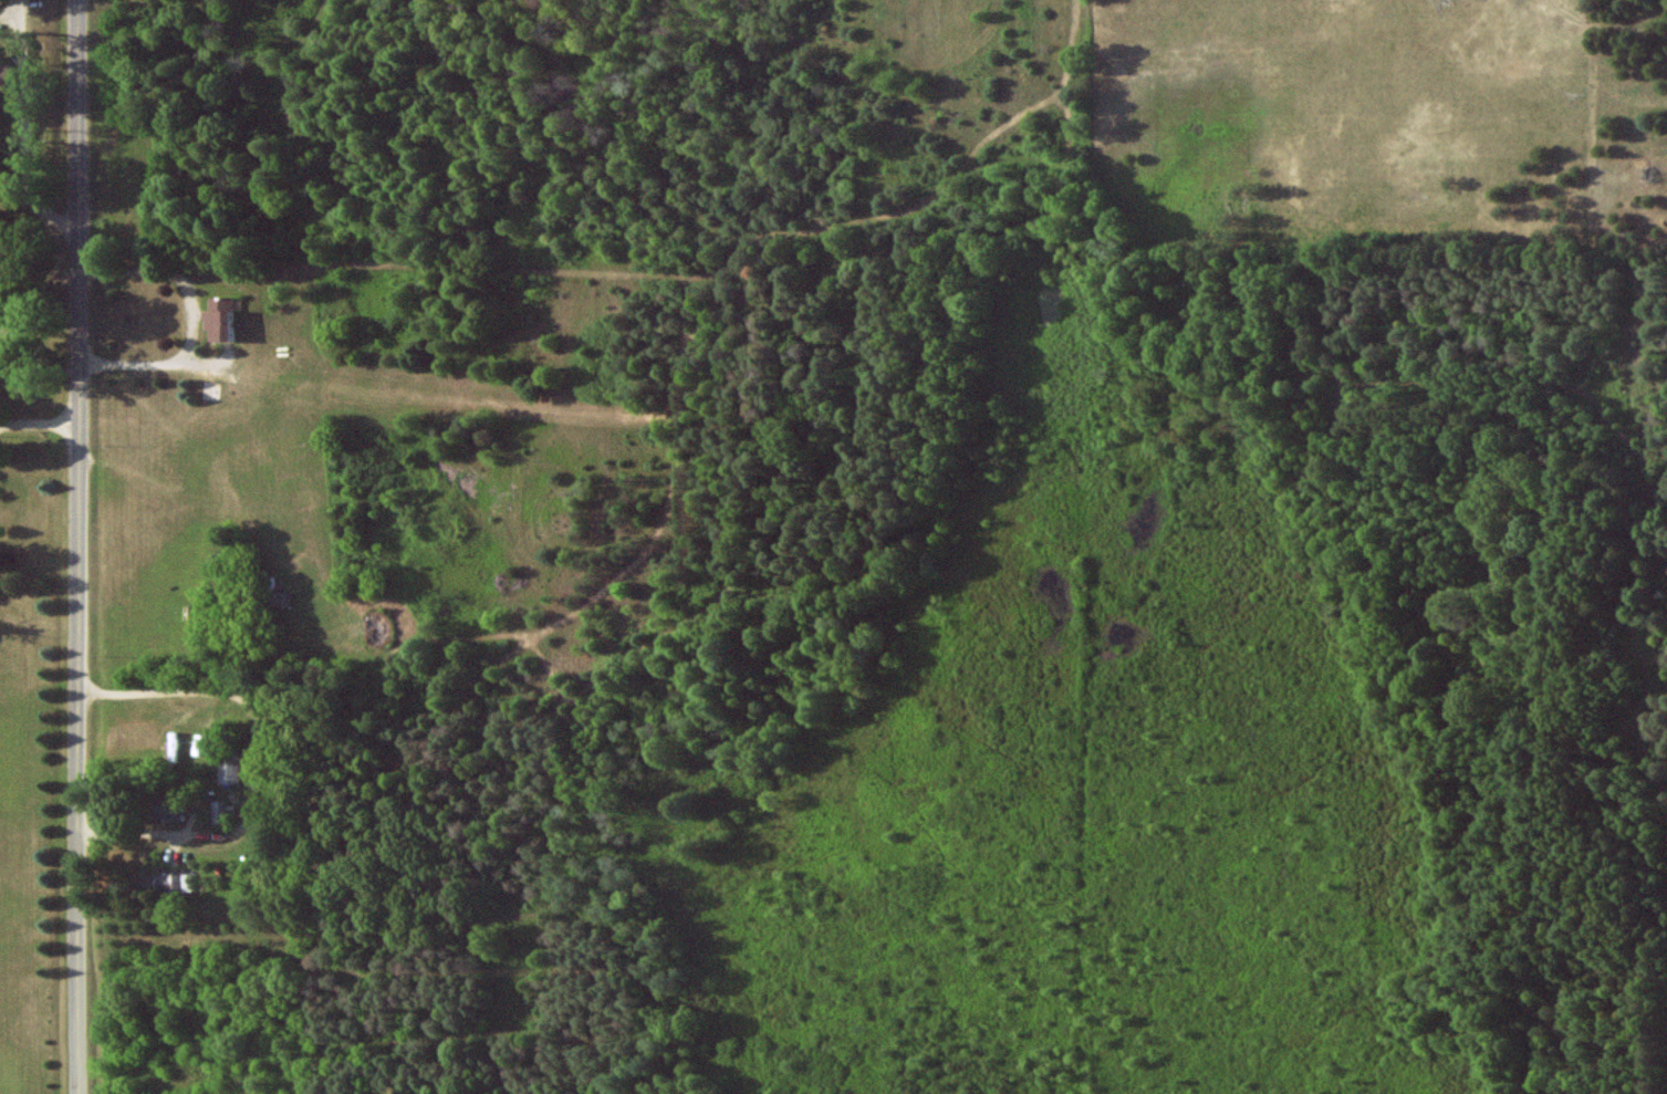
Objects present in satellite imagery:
building: (4, 75)
building: (0, 136)
road: (196, 314)
building: (219, 320)
road: (42, 425)
road: (84, 546)
building: (174, 747)
road: (257, 762)
building: (230, 764)
building: (165, 809)
building: (219, 813)
building: (162, 884)

